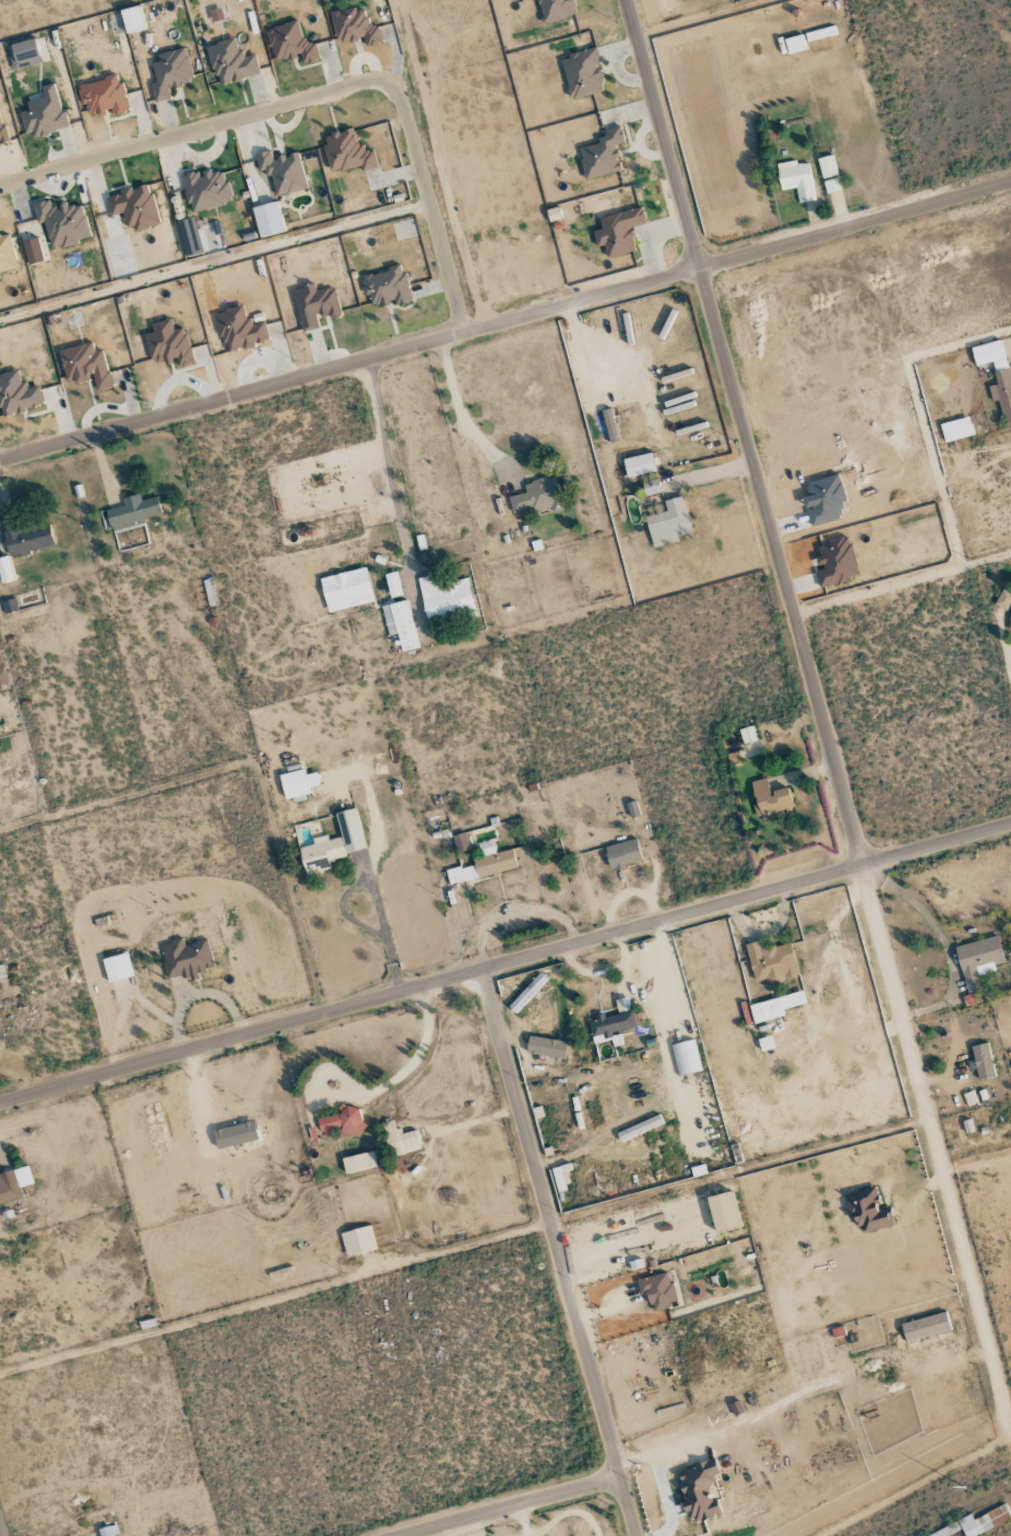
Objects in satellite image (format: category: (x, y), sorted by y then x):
building: (555, 9)
building: (131, 20)
building: (354, 27)
building: (820, 33)
building: (290, 44)
building: (794, 44)
building: (23, 54)
building: (231, 62)
building: (170, 73)
building: (582, 74)
road: (322, 89)
building: (103, 97)
building: (44, 114)
building: (2, 132)
building: (346, 152)
building: (601, 154)
building: (281, 172)
building: (828, 173)
building: (797, 179)
building: (206, 189)
building: (134, 207)
building: (267, 219)
building: (62, 222)
building: (617, 231)
building: (189, 237)
building: (33, 251)
building: (6, 254)
building: (387, 287)
building: (314, 305)
road: (505, 319)
building: (239, 329)
building: (168, 344)
building: (85, 365)
building: (996, 373)
building: (17, 394)
road: (456, 399)
building: (956, 429)
building: (639, 464)
road: (388, 470)
building: (651, 487)
building: (537, 496)
building: (132, 512)
building: (668, 523)
building: (29, 538)
building: (835, 562)
building: (6, 570)
building: (393, 585)
building: (347, 590)
building: (447, 600)
building: (1003, 600)
building: (400, 624)
road: (818, 703)
building: (747, 734)
building: (297, 782)
building: (771, 800)
building: (461, 841)
building: (334, 844)
building: (622, 853)
building: (494, 859)
building: (461, 873)
building: (186, 958)
building: (978, 960)
building: (770, 961)
road: (505, 964)
building: (118, 966)
building: (2, 974)
building: (527, 993)
building: (775, 1006)
building: (546, 1047)
building: (686, 1057)
building: (982, 1061)
building: (970, 1098)
building: (342, 1122)
building: (236, 1134)
building: (401, 1139)
building: (359, 1162)
building: (561, 1177)
building: (14, 1183)
building: (867, 1210)
building: (723, 1211)
building: (358, 1240)
road: (561, 1253)
building: (657, 1290)
building: (925, 1326)
building: (736, 1408)
road: (660, 1481)
building: (698, 1491)
road: (514, 1506)
building: (976, 1523)
building: (105, 1531)
road: (0, 1532)

